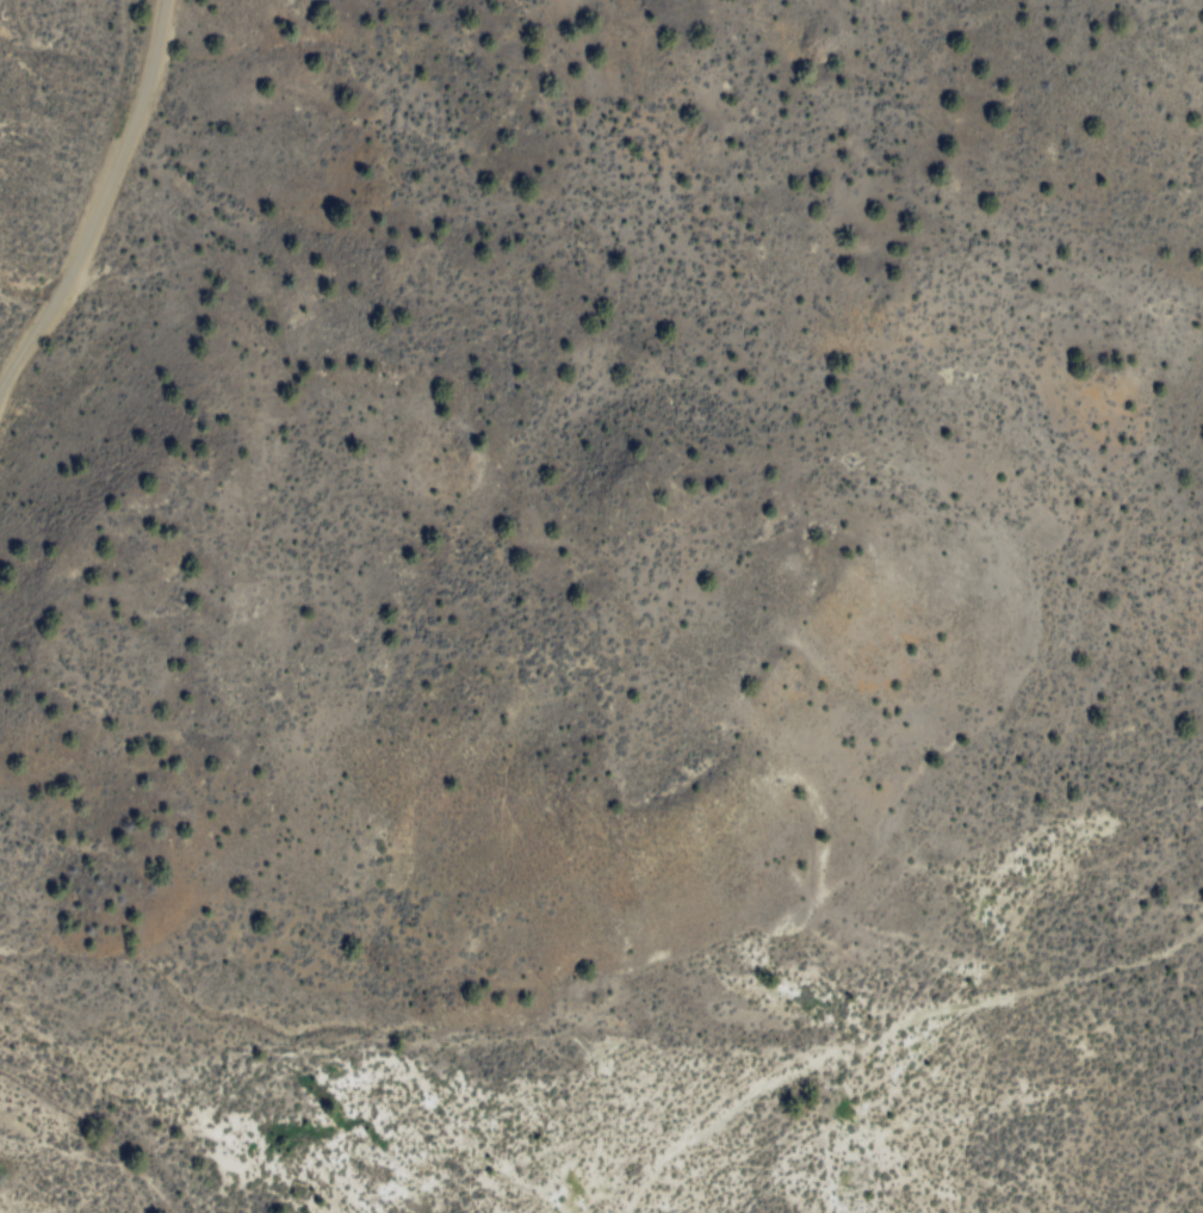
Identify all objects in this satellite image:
road: (97, 202)

